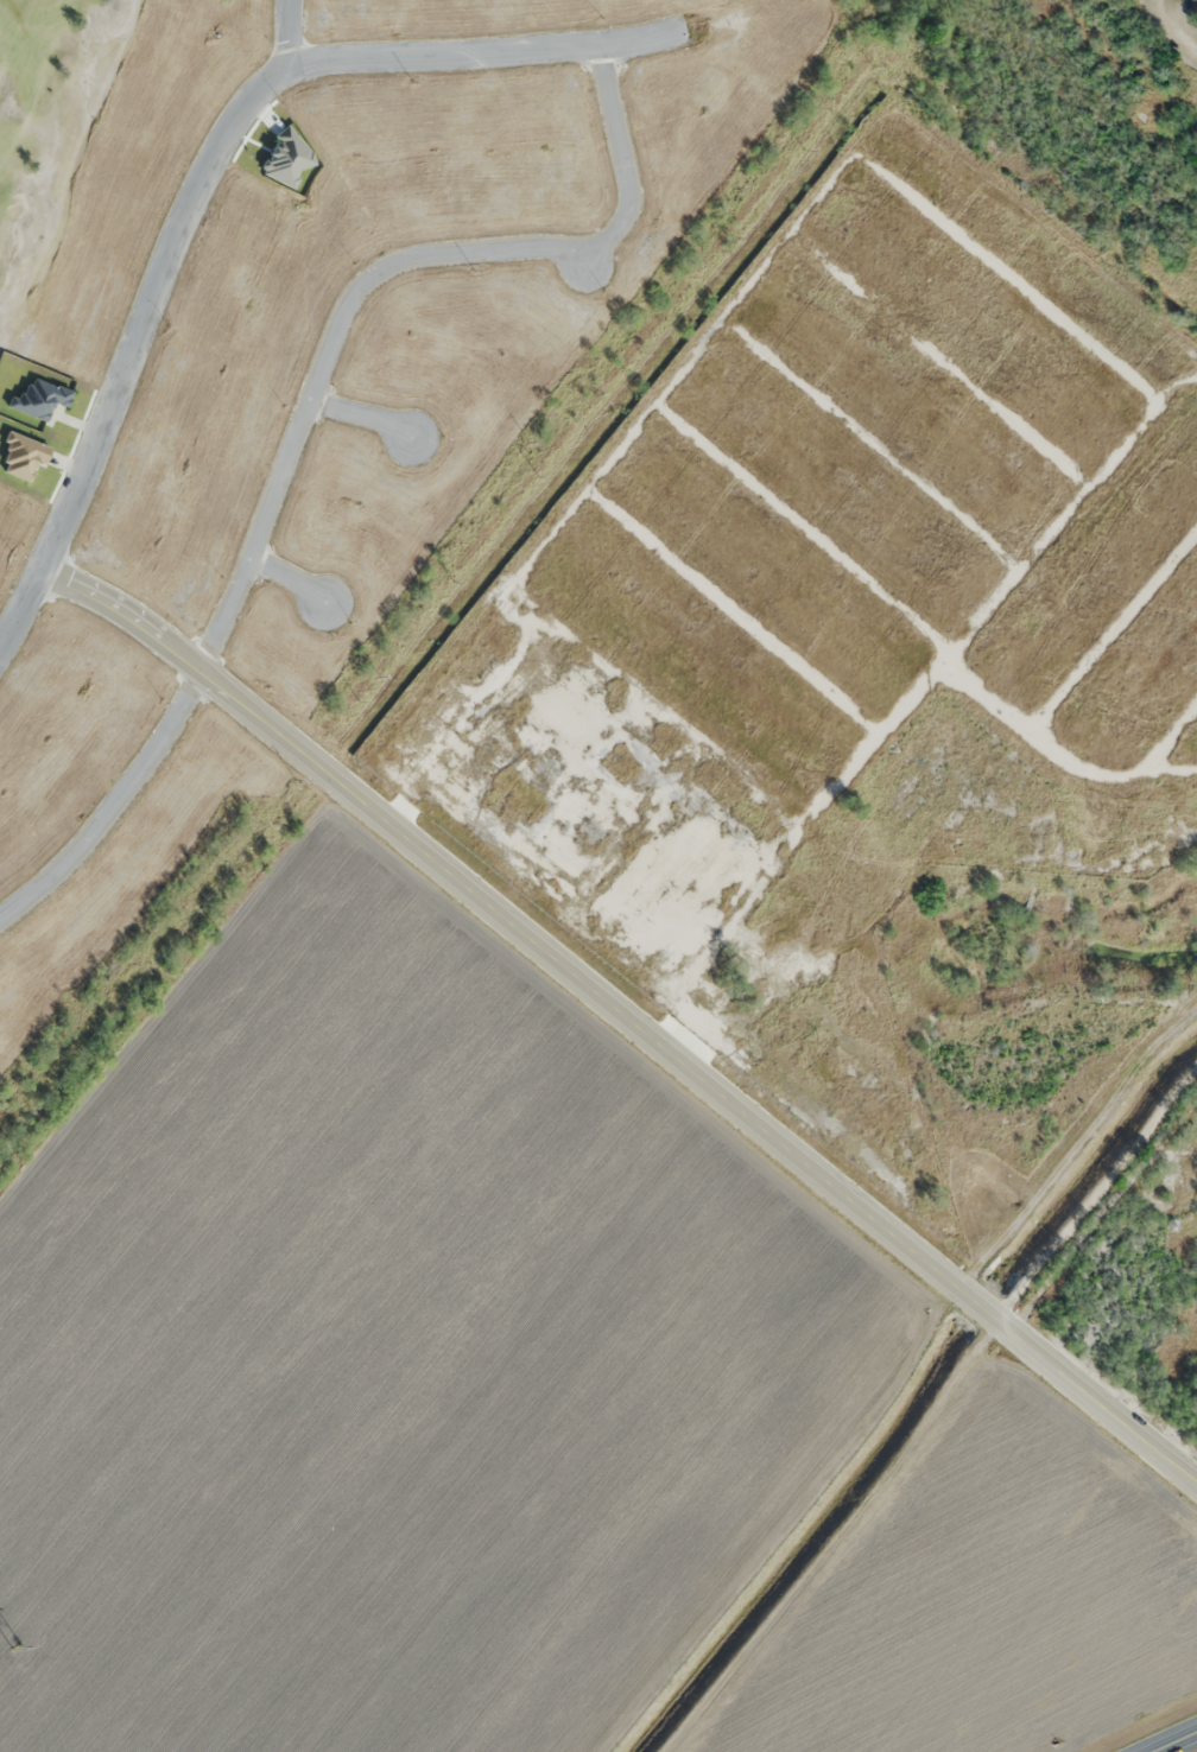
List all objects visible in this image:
road: (291, 30)
road: (210, 157)
road: (303, 412)
road: (361, 415)
road: (290, 577)
road: (628, 1014)
power tower: (17, 1649)
road: (1178, 1743)

